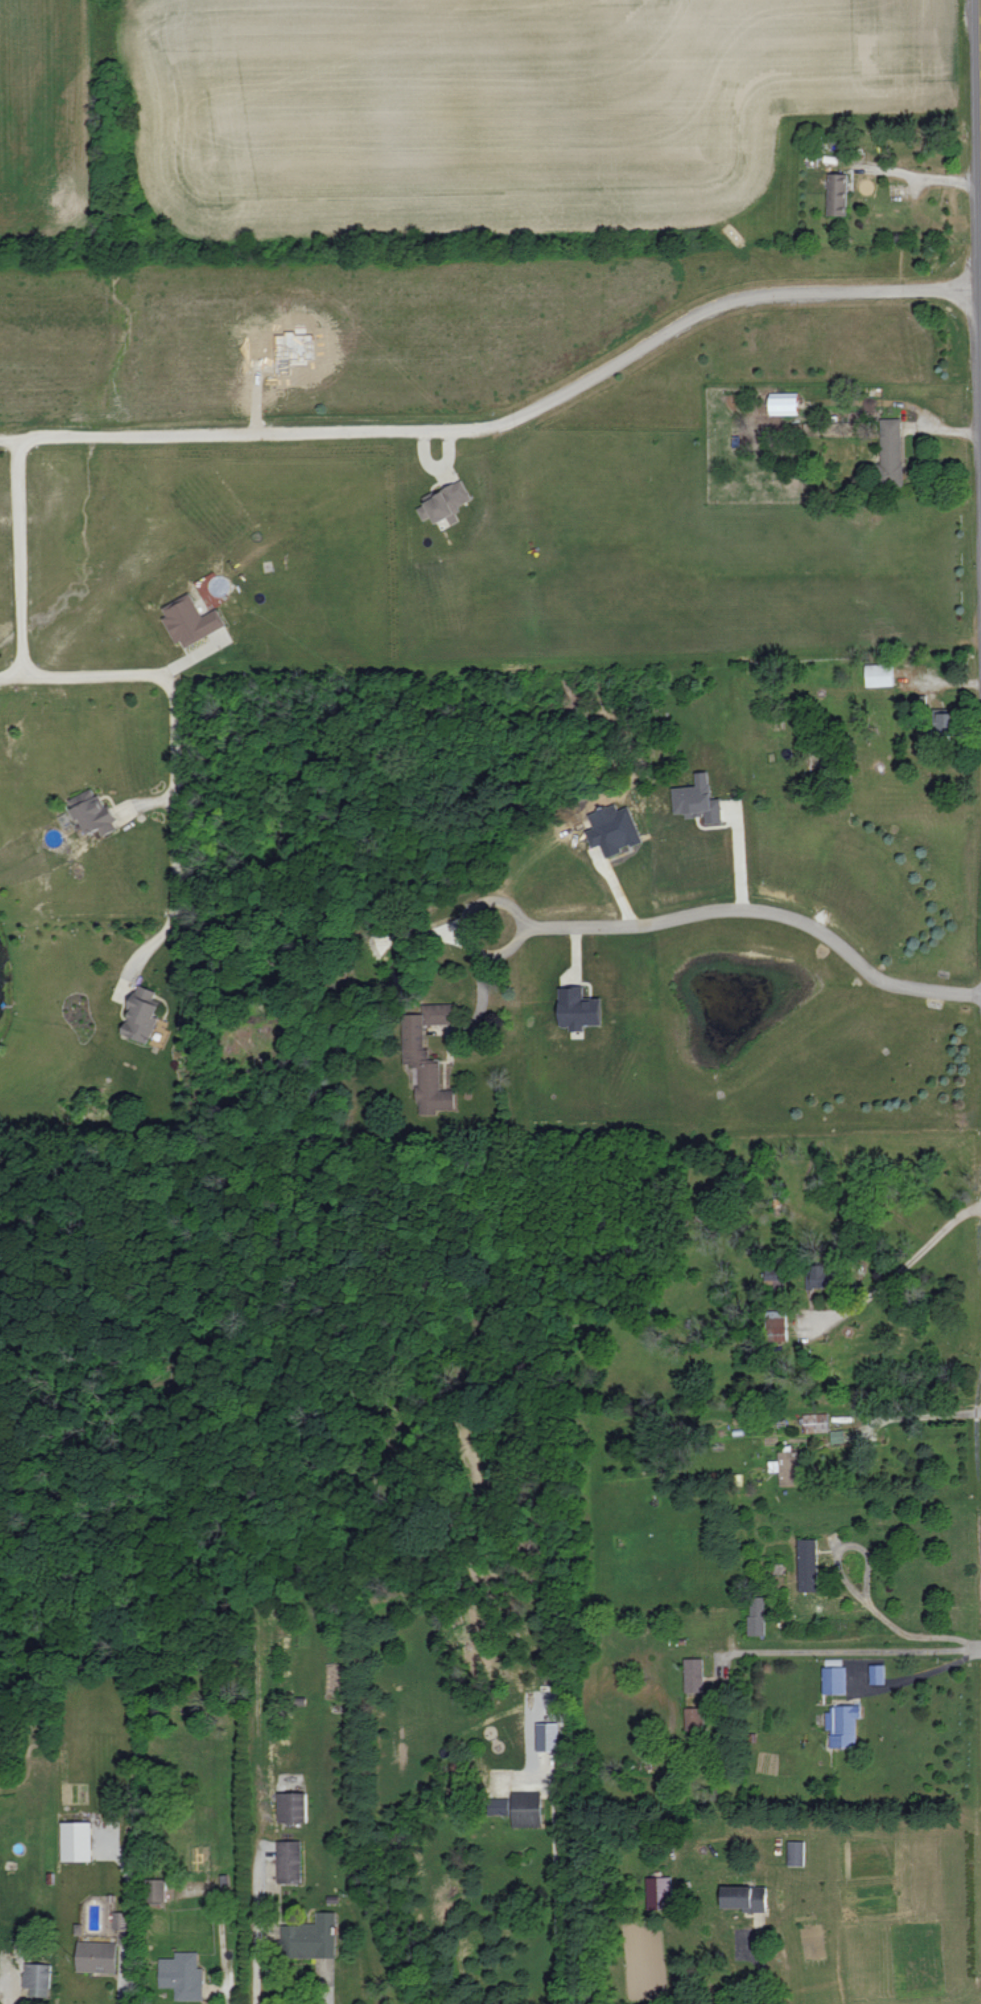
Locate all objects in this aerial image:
road: (931, 179)
building: (837, 193)
building: (784, 403)
road: (506, 424)
building: (891, 451)
building: (445, 502)
road: (21, 556)
building: (191, 620)
road: (12, 674)
building: (879, 674)
building: (941, 725)
road: (176, 732)
building: (698, 799)
building: (92, 812)
building: (613, 829)
road: (739, 860)
road: (763, 910)
road: (511, 953)
building: (578, 1008)
building: (142, 1014)
building: (427, 1056)
building: (774, 1274)
building: (822, 1276)
building: (776, 1325)
road: (914, 1416)
building: (814, 1422)
building: (837, 1436)
building: (787, 1467)
road: (847, 1546)
building: (808, 1564)
building: (757, 1618)
road: (919, 1636)
road: (847, 1651)
building: (877, 1673)
building: (694, 1674)
road: (906, 1678)
building: (835, 1679)
building: (694, 1718)
building: (843, 1724)
building: (549, 1736)
building: (293, 1807)
building: (527, 1808)
building: (77, 1840)
building: (796, 1852)
building: (289, 1861)
building: (158, 1889)
building: (659, 1892)
building: (745, 1898)
building: (121, 1920)
road: (257, 1923)
building: (311, 1937)
building: (97, 1956)
building: (182, 1975)
building: (37, 1978)

